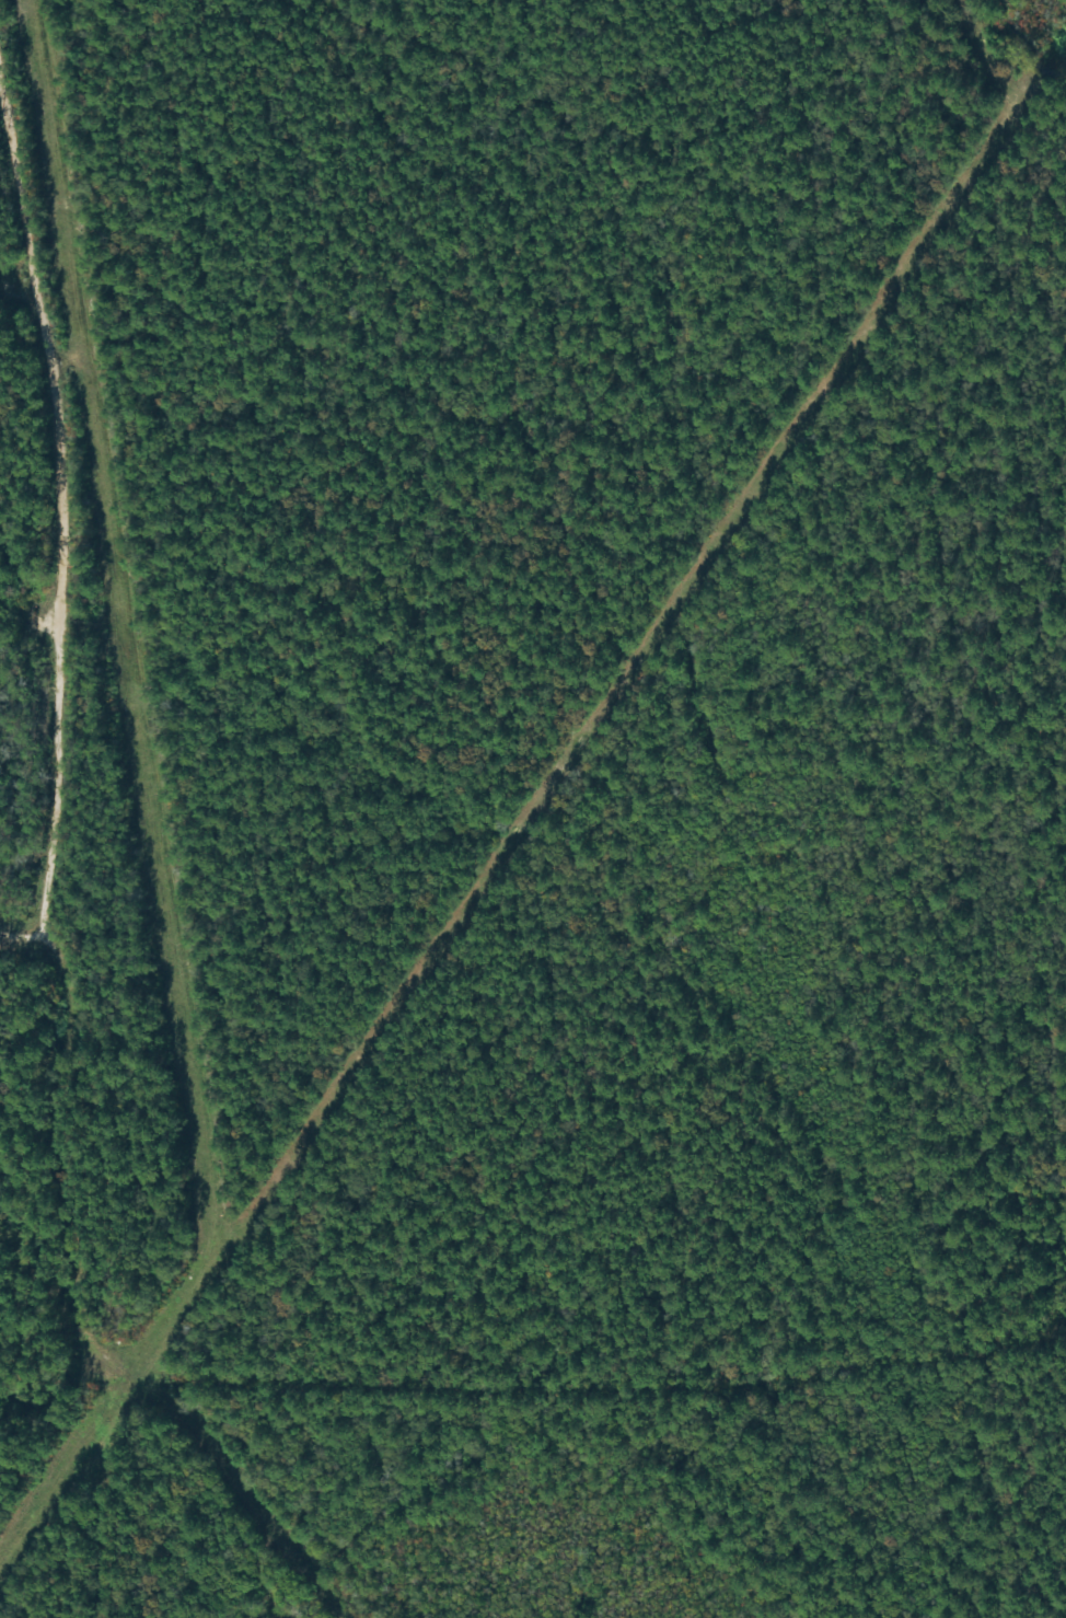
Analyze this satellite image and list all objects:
road: (33, 829)
road: (571, 1351)

